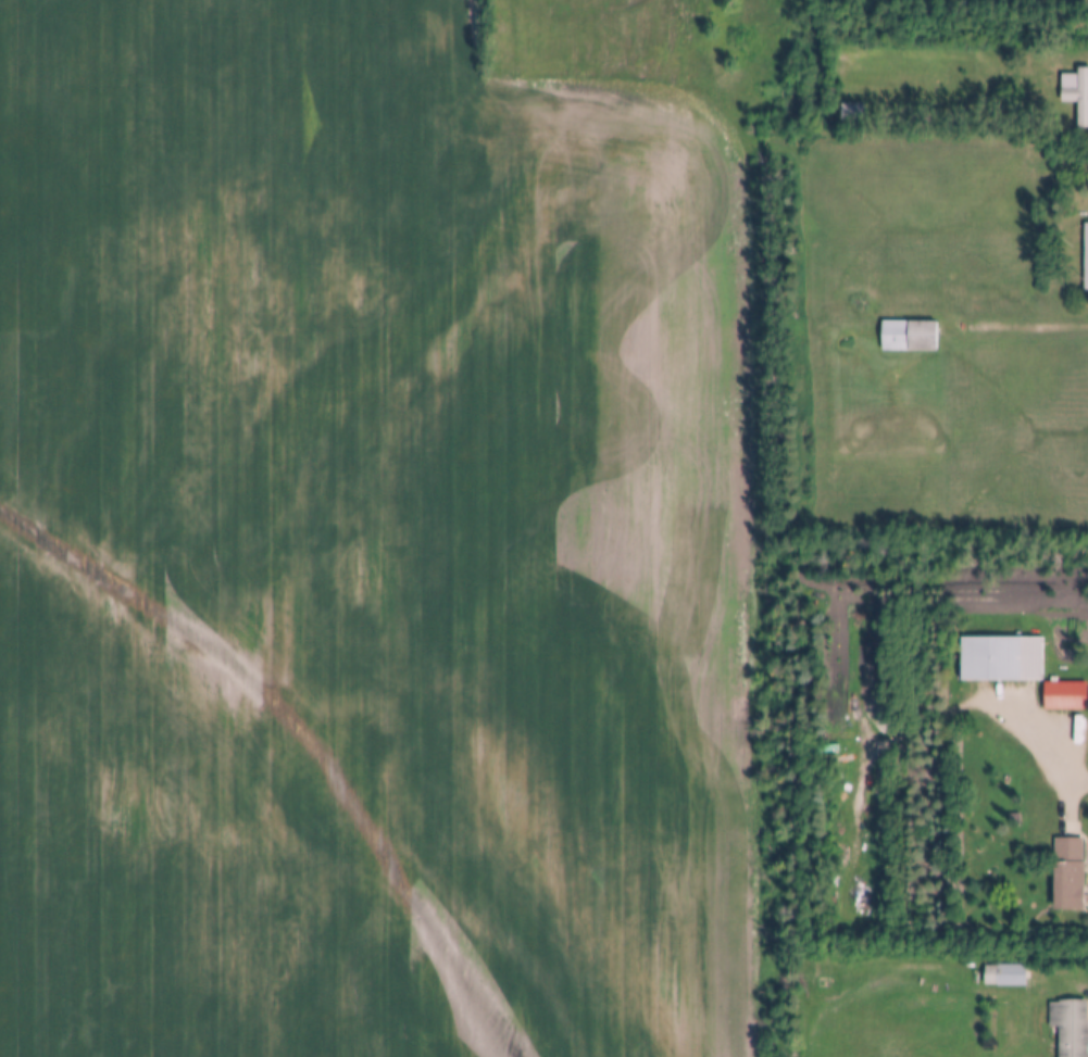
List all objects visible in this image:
building: (1077, 93)
building: (852, 111)
building: (1086, 257)
road: (1020, 327)
building: (910, 336)
building: (1001, 659)
building: (1065, 695)
road: (1041, 751)
building: (1014, 818)
building: (1068, 874)
building: (816, 970)
building: (1005, 976)
building: (823, 984)
building: (1070, 1027)

